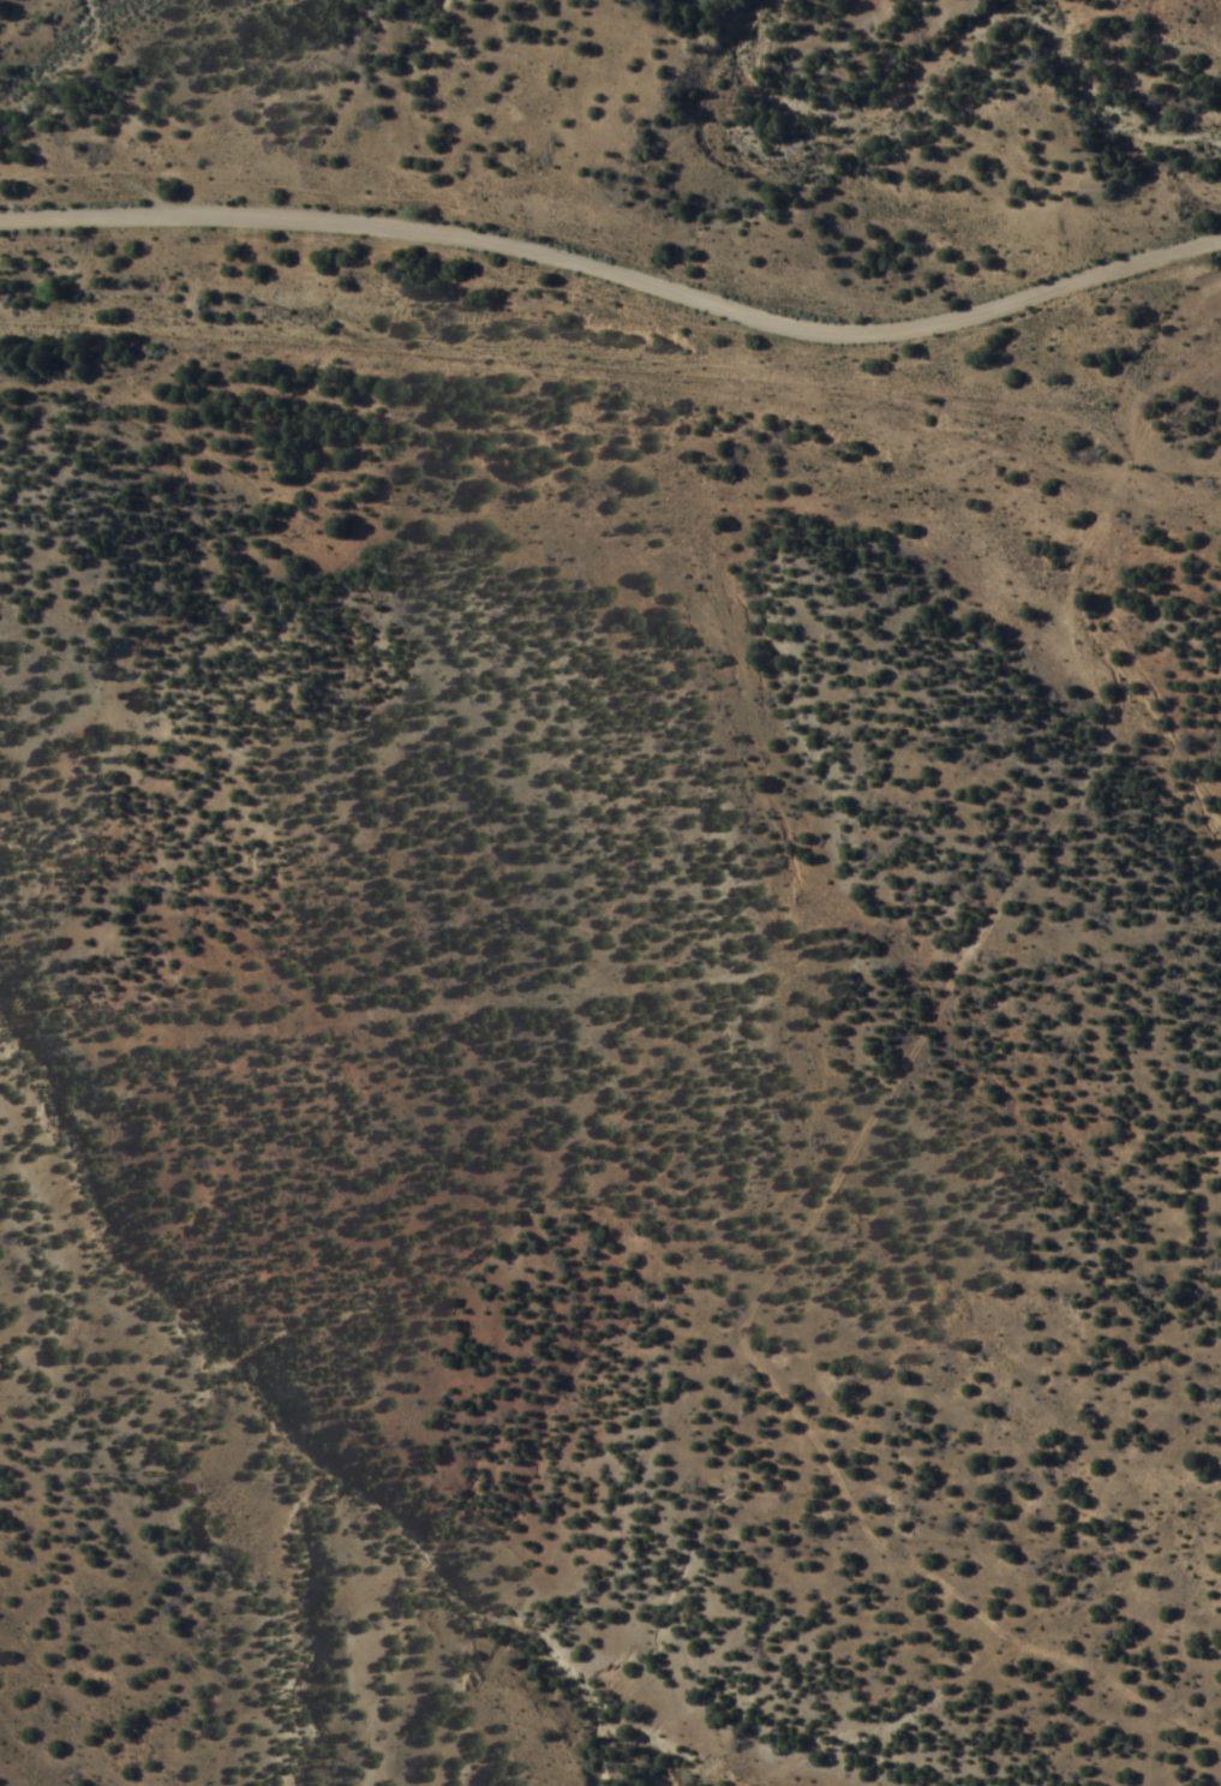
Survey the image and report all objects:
road: (618, 270)

